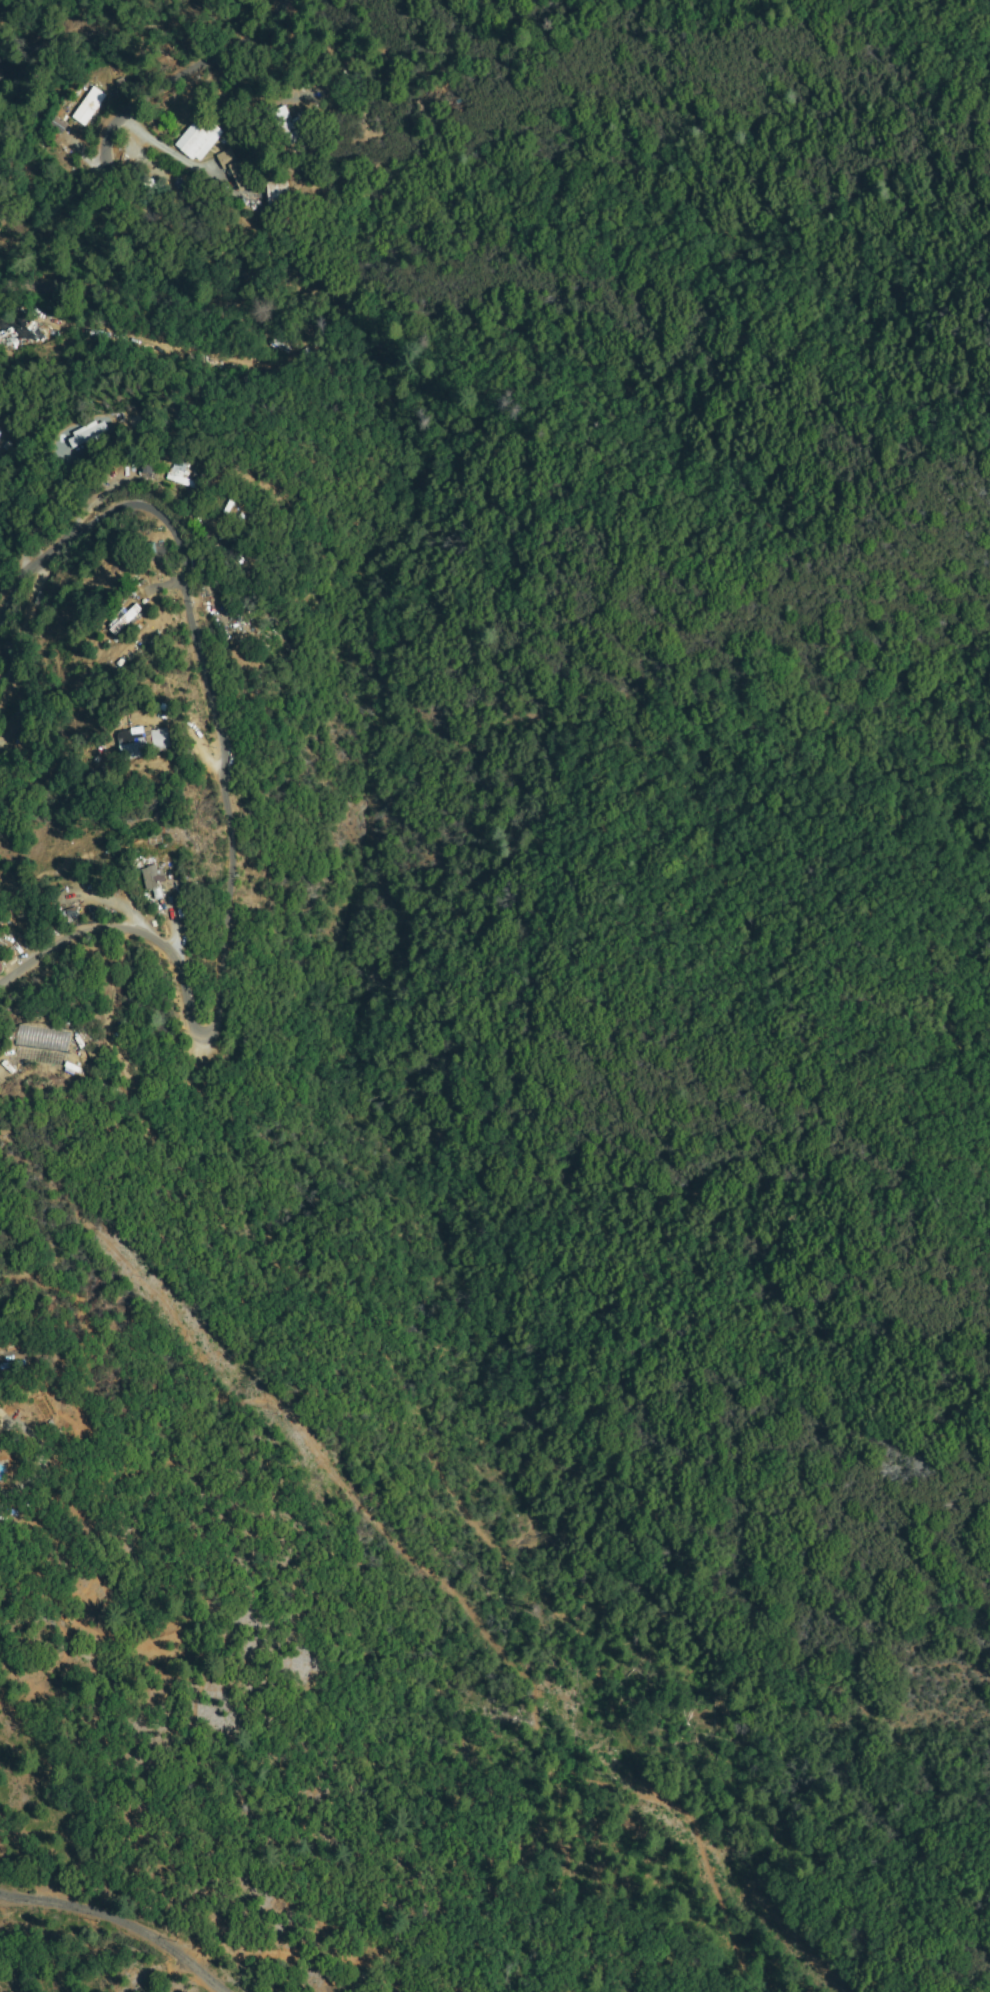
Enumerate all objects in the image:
building: (89, 106)
building: (58, 125)
building: (285, 127)
building: (199, 138)
building: (234, 167)
building: (276, 193)
road: (170, 223)
building: (166, 344)
building: (201, 357)
building: (88, 433)
building: (181, 477)
building: (124, 618)
building: (242, 663)
building: (141, 741)
road: (226, 812)
building: (154, 882)
building: (30, 911)
road: (120, 1920)

